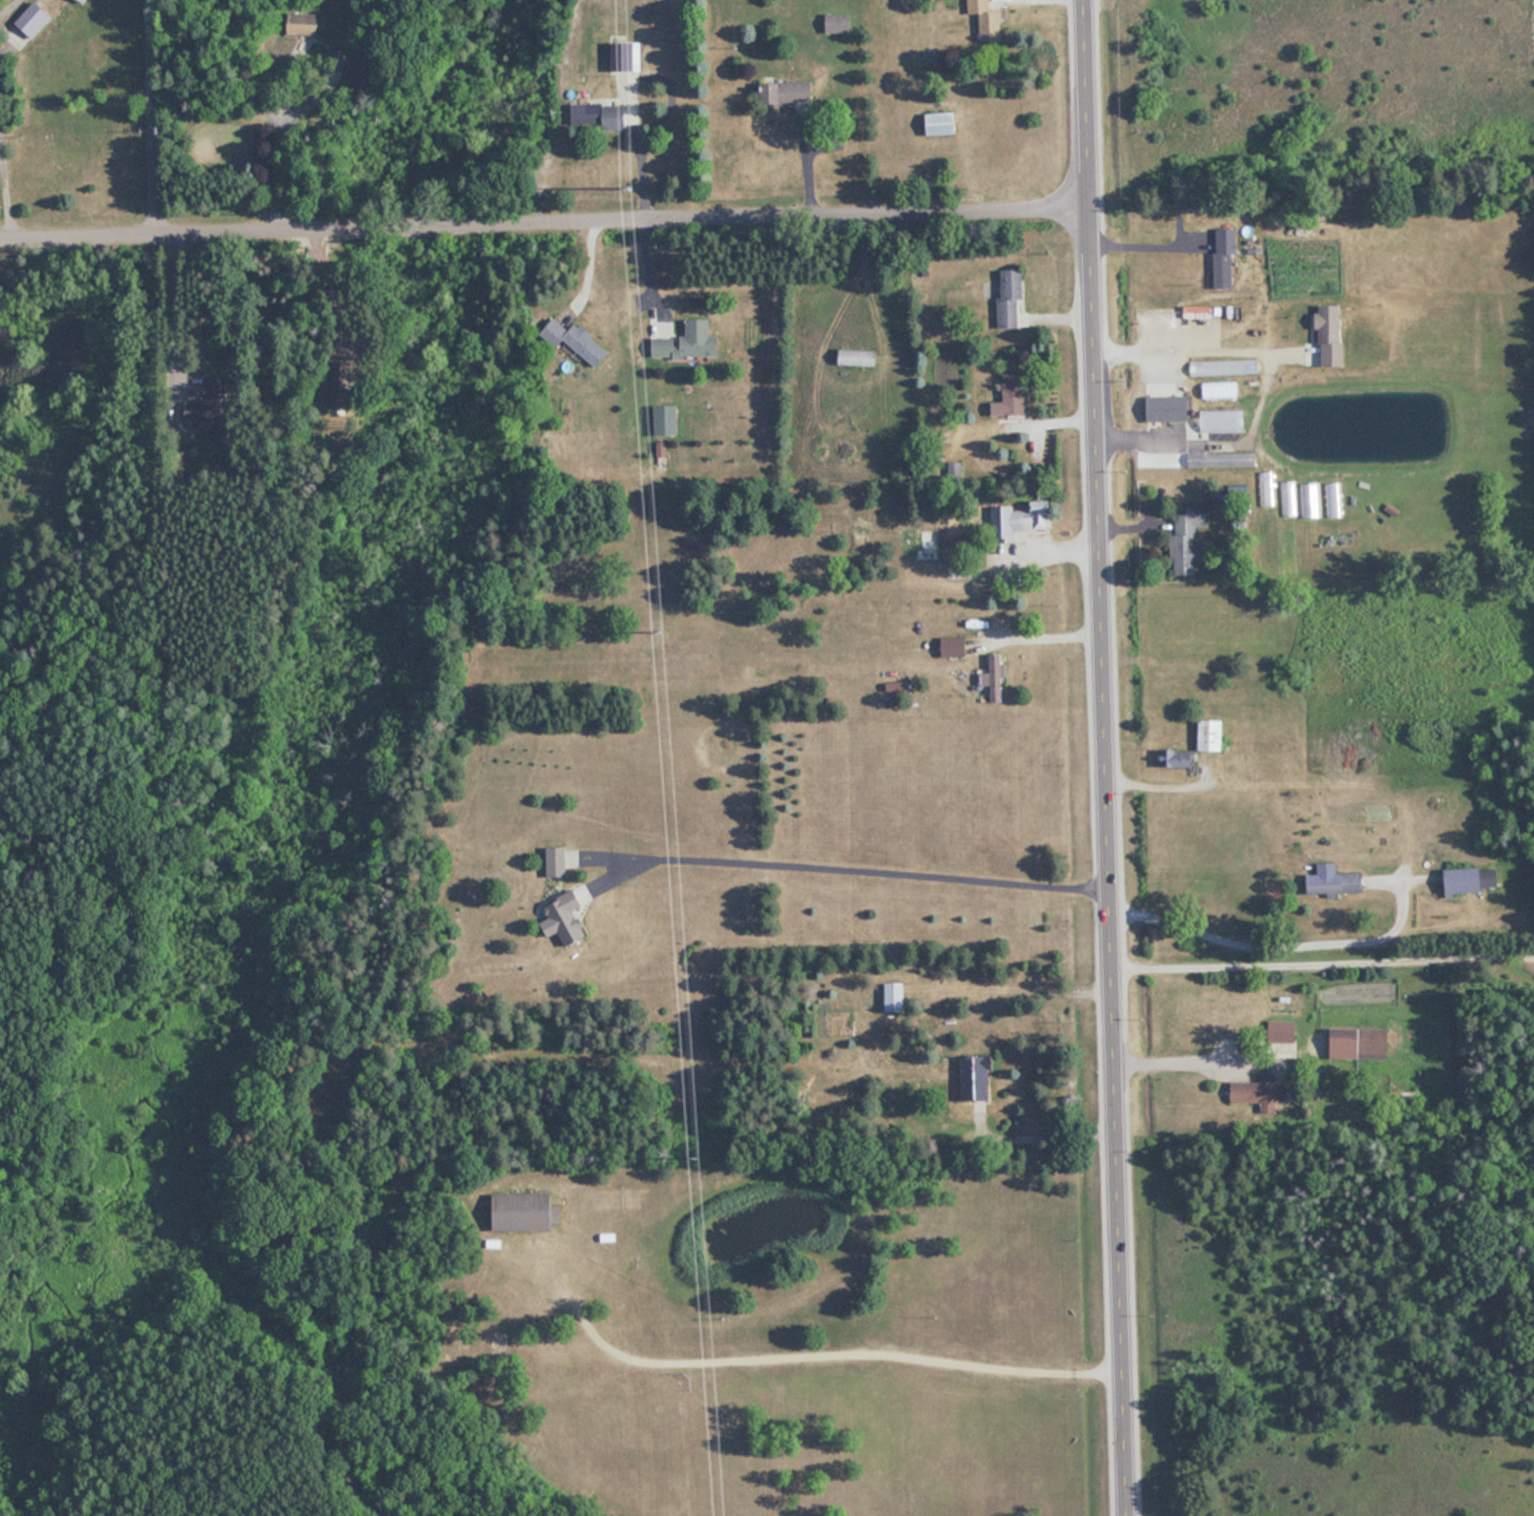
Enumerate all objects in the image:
building: (987, 21)
building: (838, 23)
building: (294, 24)
building: (624, 56)
building: (784, 93)
park: (1308, 99)
building: (598, 115)
road: (151, 119)
building: (941, 123)
road: (633, 164)
road: (807, 166)
power tower: (629, 186)
road: (545, 226)
building: (1224, 257)
road: (646, 277)
building: (1010, 298)
road: (1059, 317)
building: (1332, 334)
building: (689, 341)
building: (579, 343)
building: (858, 356)
building: (337, 385)
building: (1221, 390)
building: (1012, 395)
building: (204, 405)
building: (1168, 408)
road: (1053, 419)
building: (1213, 420)
building: (1221, 459)
building: (1266, 488)
building: (1288, 498)
building: (1333, 498)
building: (1309, 499)
building: (1020, 519)
road: (1132, 527)
building: (1189, 538)
building: (927, 543)
road: (1050, 550)
power tower: (659, 631)
road: (1043, 637)
building: (955, 646)
building: (996, 677)
building: (1211, 735)
road: (1105, 757)
building: (1178, 758)
road: (1160, 783)
building: (557, 861)
road: (846, 866)
building: (1472, 879)
building: (1335, 882)
park: (89, 893)
building: (565, 918)
road: (1323, 973)
building: (895, 997)
building: (1282, 1031)
building: (1361, 1043)
road: (1178, 1060)
building: (977, 1078)
building: (1254, 1092)
road: (1048, 1135)
power tower: (693, 1157)
building: (524, 1211)
park: (1328, 1322)
road: (817, 1355)

